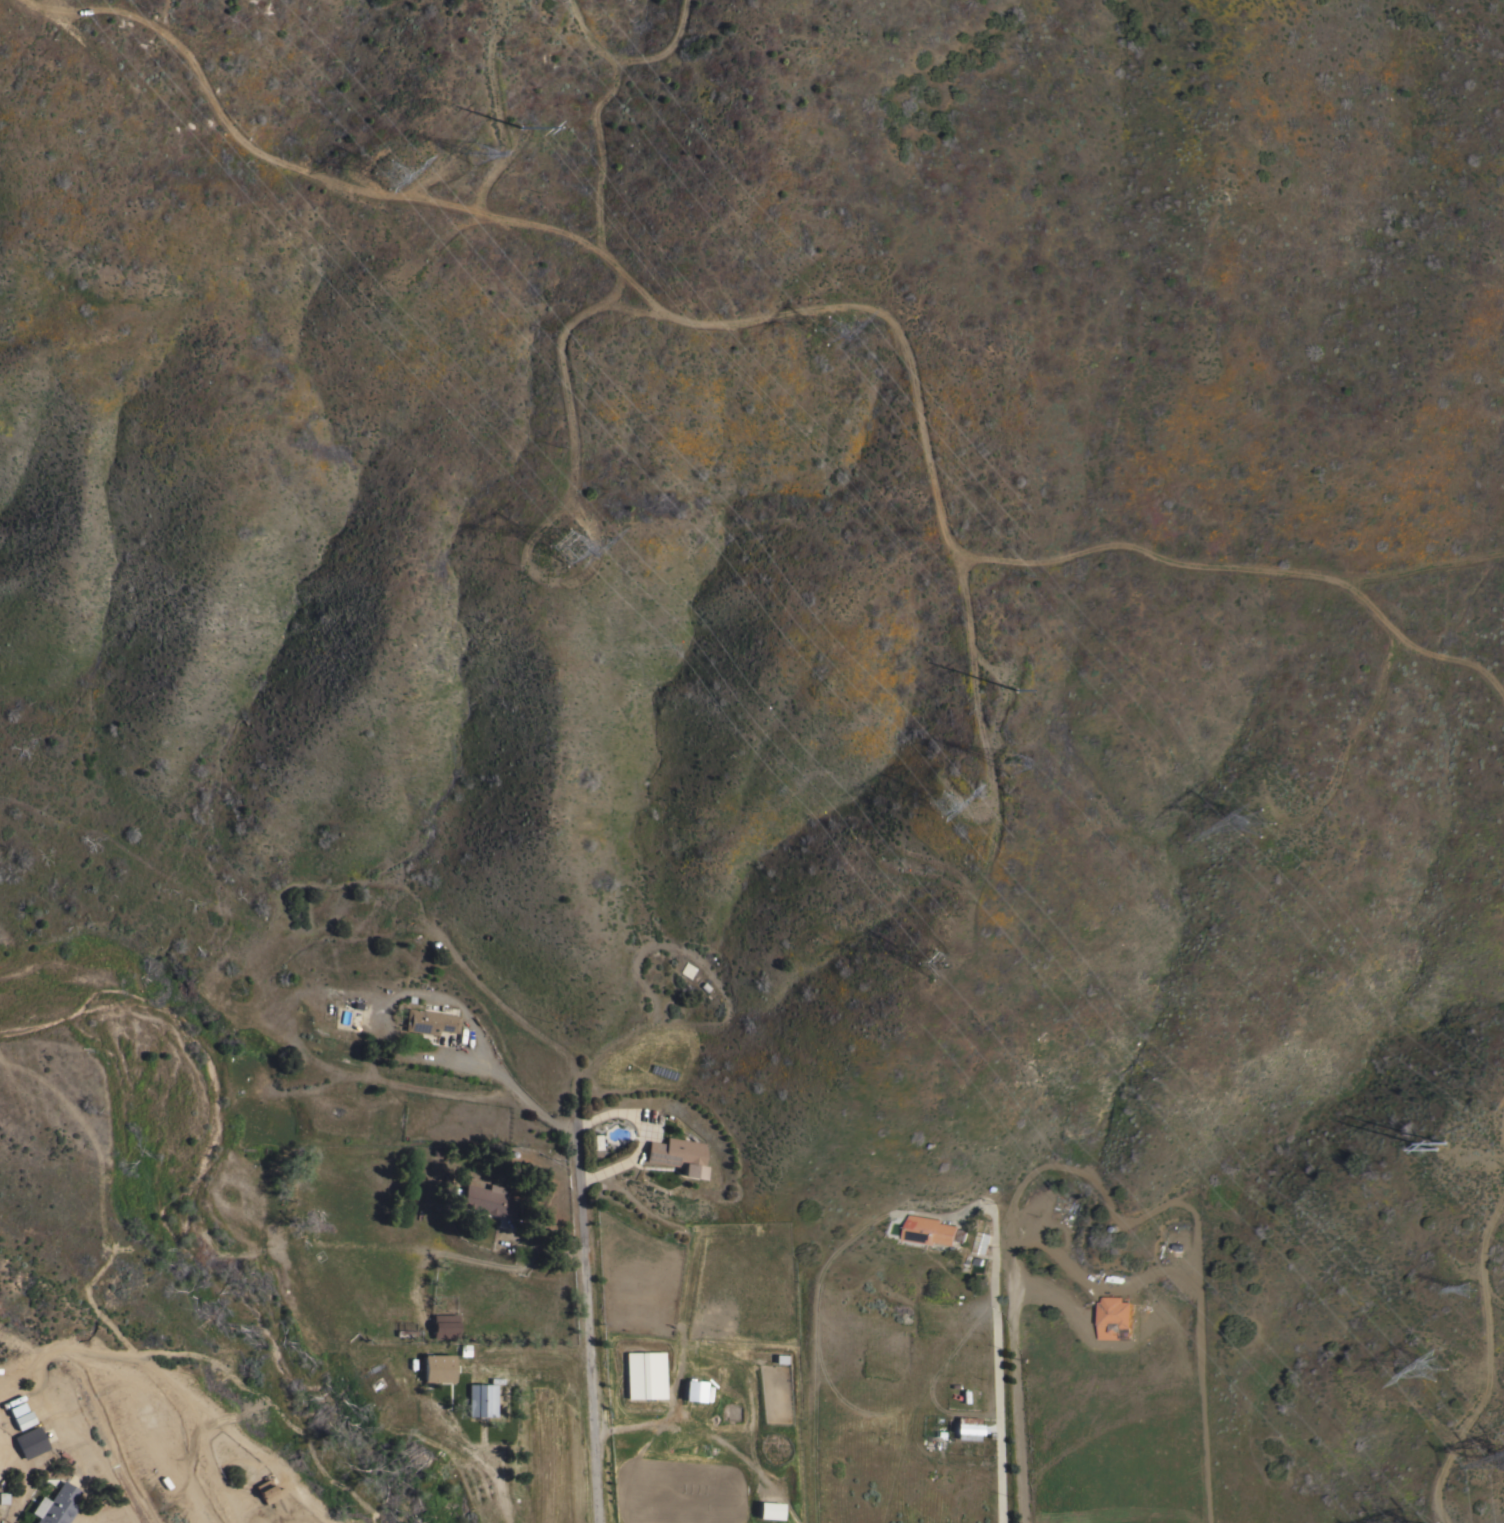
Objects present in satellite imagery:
power tower: (522, 129)
power tower: (469, 148)
power tower: (388, 179)
power tower: (823, 332)
road: (758, 392)
power tower: (576, 551)
road: (1423, 565)
road: (1417, 653)
power tower: (1016, 688)
power tower: (1010, 761)
power tower: (939, 805)
power tower: (1260, 816)
building: (687, 969)
power tower: (942, 971)
building: (429, 1021)
road: (496, 1076)
power tower: (1442, 1140)
building: (678, 1155)
building: (487, 1199)
building: (934, 1231)
building: (981, 1243)
power tower: (1468, 1286)
building: (1116, 1318)
road: (583, 1320)
building: (444, 1326)
road: (1491, 1363)
building: (437, 1367)
power tower: (1441, 1372)
building: (645, 1375)
road: (1016, 1378)
road: (999, 1382)
building: (693, 1391)
building: (481, 1399)
building: (15, 1408)
building: (22, 1420)
building: (966, 1428)
building: (29, 1442)
road: (493, 1475)
building: (265, 1490)
building: (3, 1497)
building: (55, 1505)
building: (769, 1511)
road: (85, 1522)

